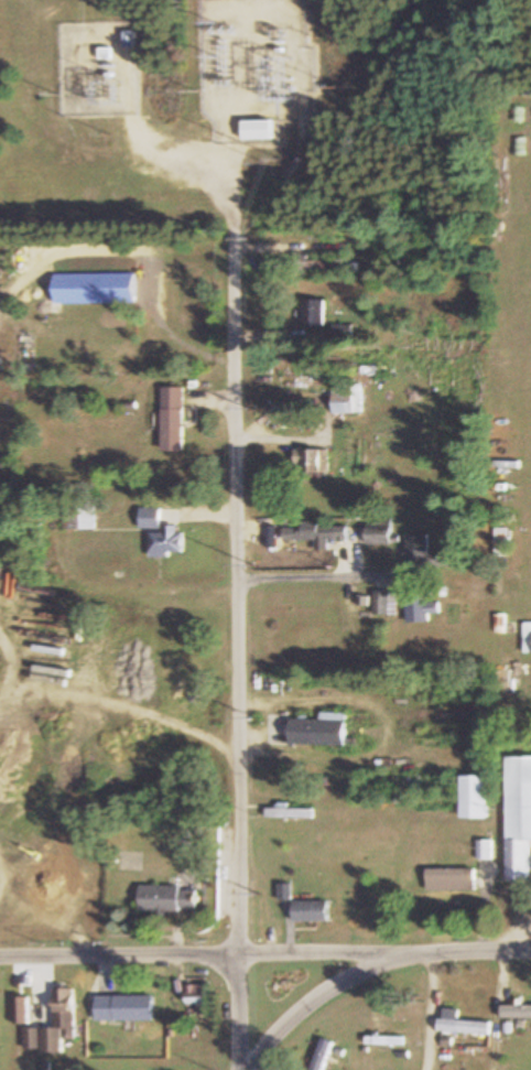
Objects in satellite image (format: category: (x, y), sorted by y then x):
building: (106, 58)
power substation: (102, 67)
power substation: (258, 67)
building: (257, 128)
building: (94, 282)
building: (314, 312)
building: (347, 399)
building: (173, 419)
building: (315, 461)
building: (79, 515)
building: (150, 517)
building: (315, 532)
building: (378, 533)
building: (167, 542)
building: (422, 554)
building: (381, 604)
road: (239, 620)
building: (527, 639)
building: (316, 731)
building: (470, 798)
building: (286, 812)
building: (517, 819)
building: (448, 879)
building: (166, 899)
building: (302, 907)
road: (475, 950)
road: (328, 952)
road: (118, 955)
road: (322, 993)
building: (194, 994)
building: (122, 1008)
building: (19, 1010)
building: (514, 1012)
building: (52, 1025)
building: (462, 1027)
building: (321, 1055)

